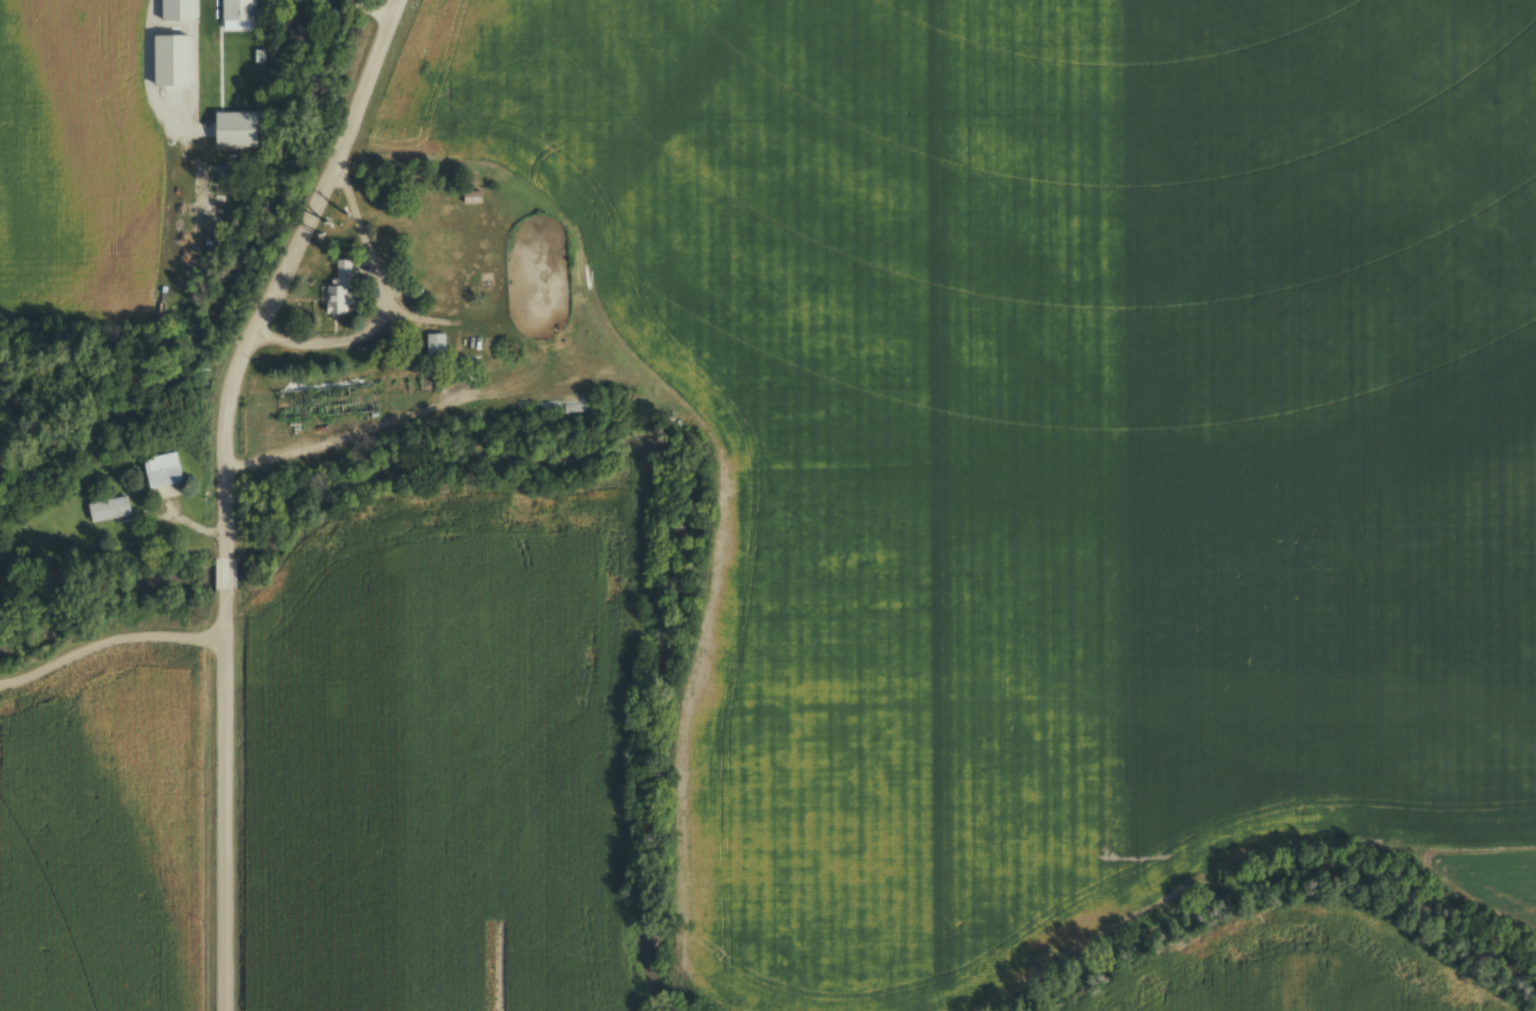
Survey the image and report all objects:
road: (377, 7)
building: (234, 13)
building: (469, 197)
road: (280, 271)
building: (336, 290)
road: (386, 300)
building: (433, 345)
building: (640, 382)
building: (323, 402)
building: (159, 469)
building: (105, 509)
road: (225, 570)
road: (224, 798)

